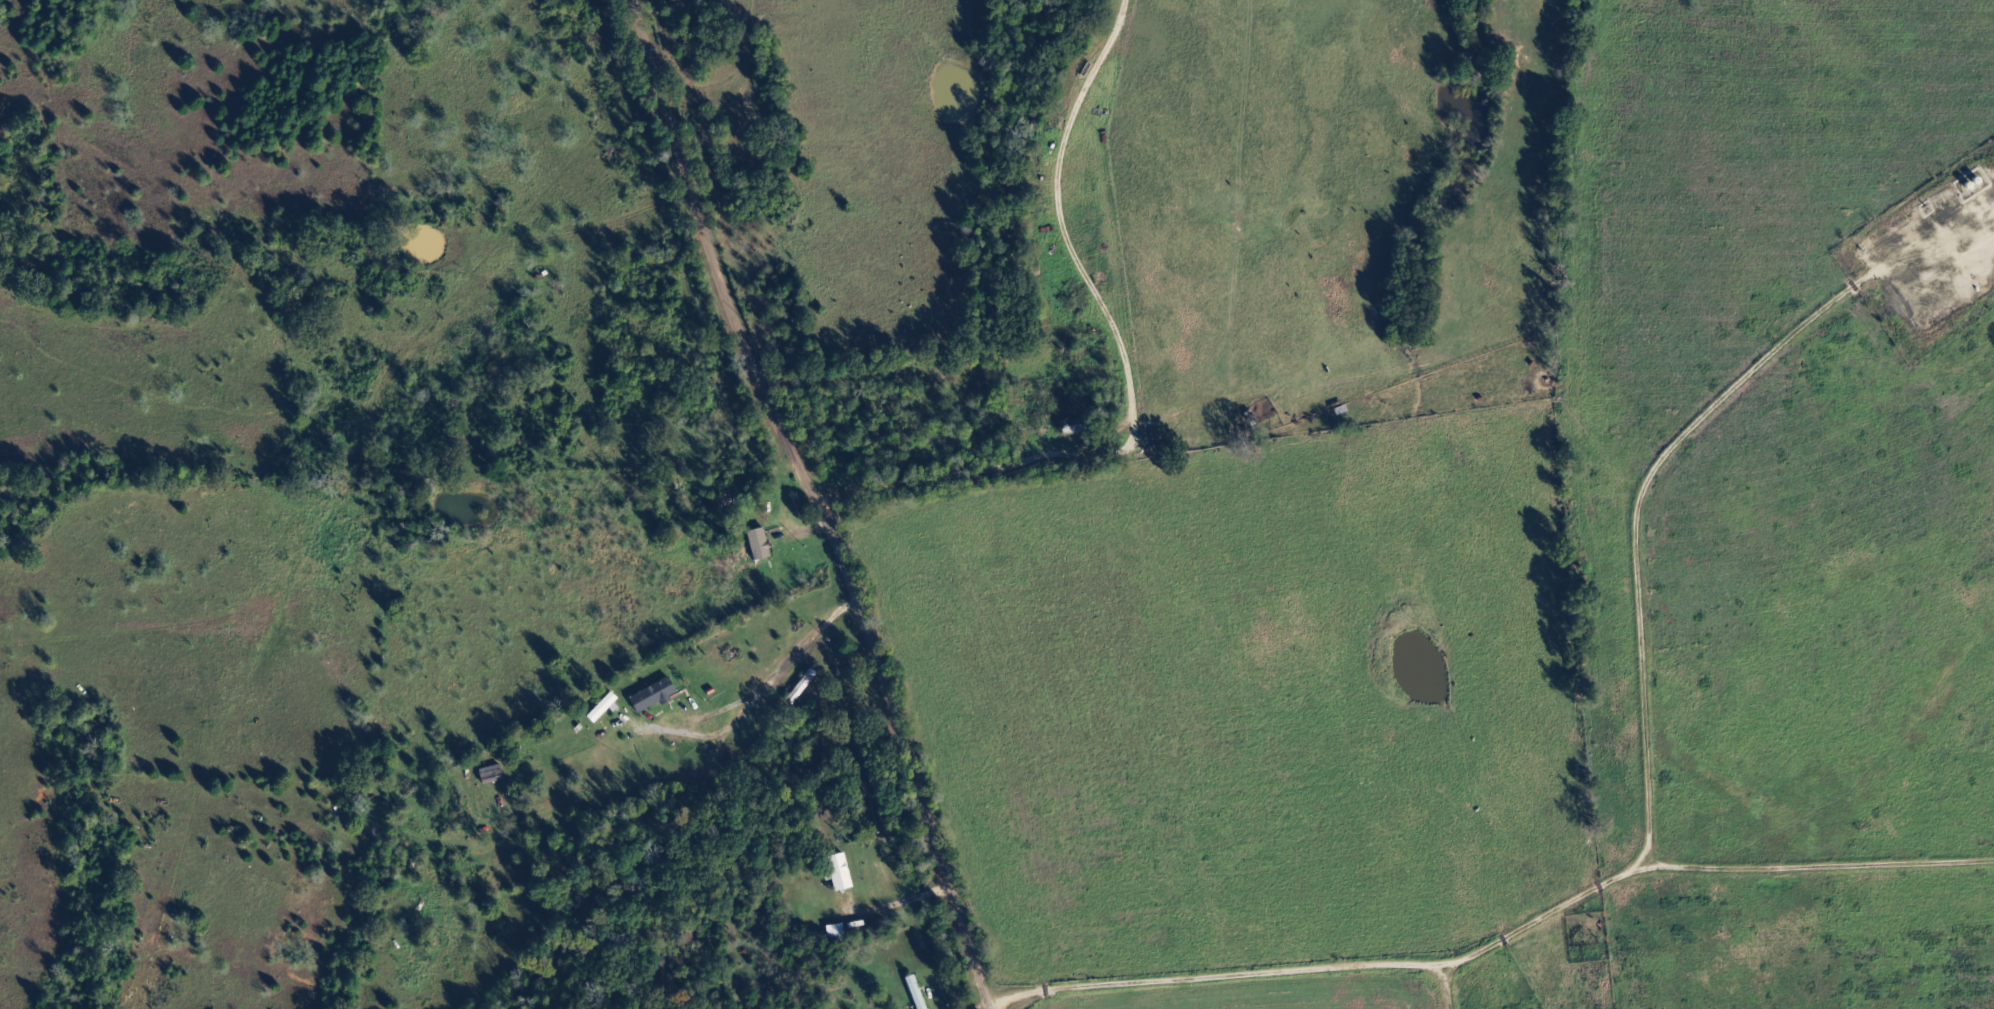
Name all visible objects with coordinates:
road: (926, 477)
road: (838, 500)
building: (761, 545)
building: (657, 695)
road: (421, 704)
building: (605, 708)
building: (841, 873)
building: (918, 992)

